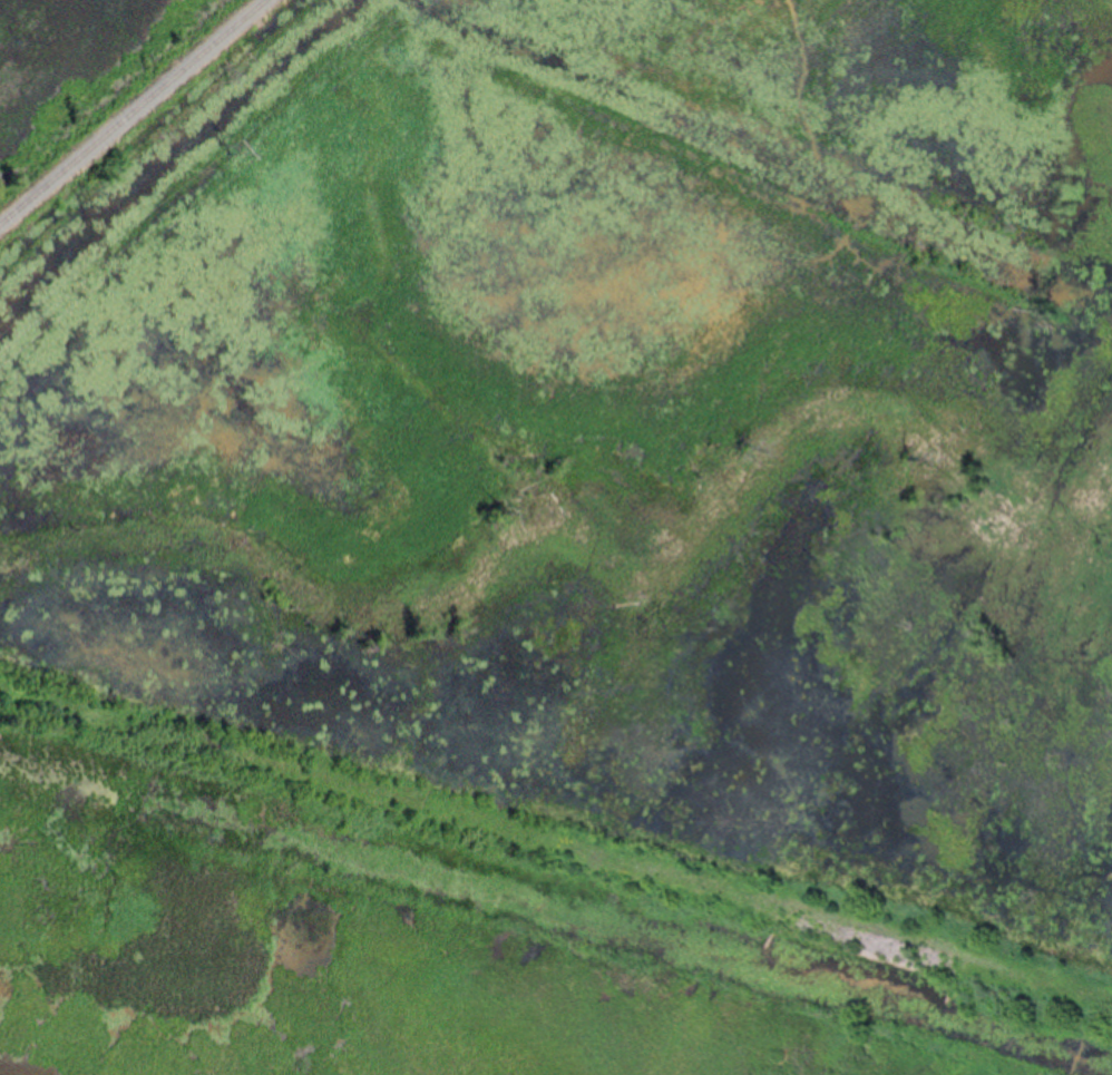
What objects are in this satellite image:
railway: (130, 110)
power tower: (225, 143)

